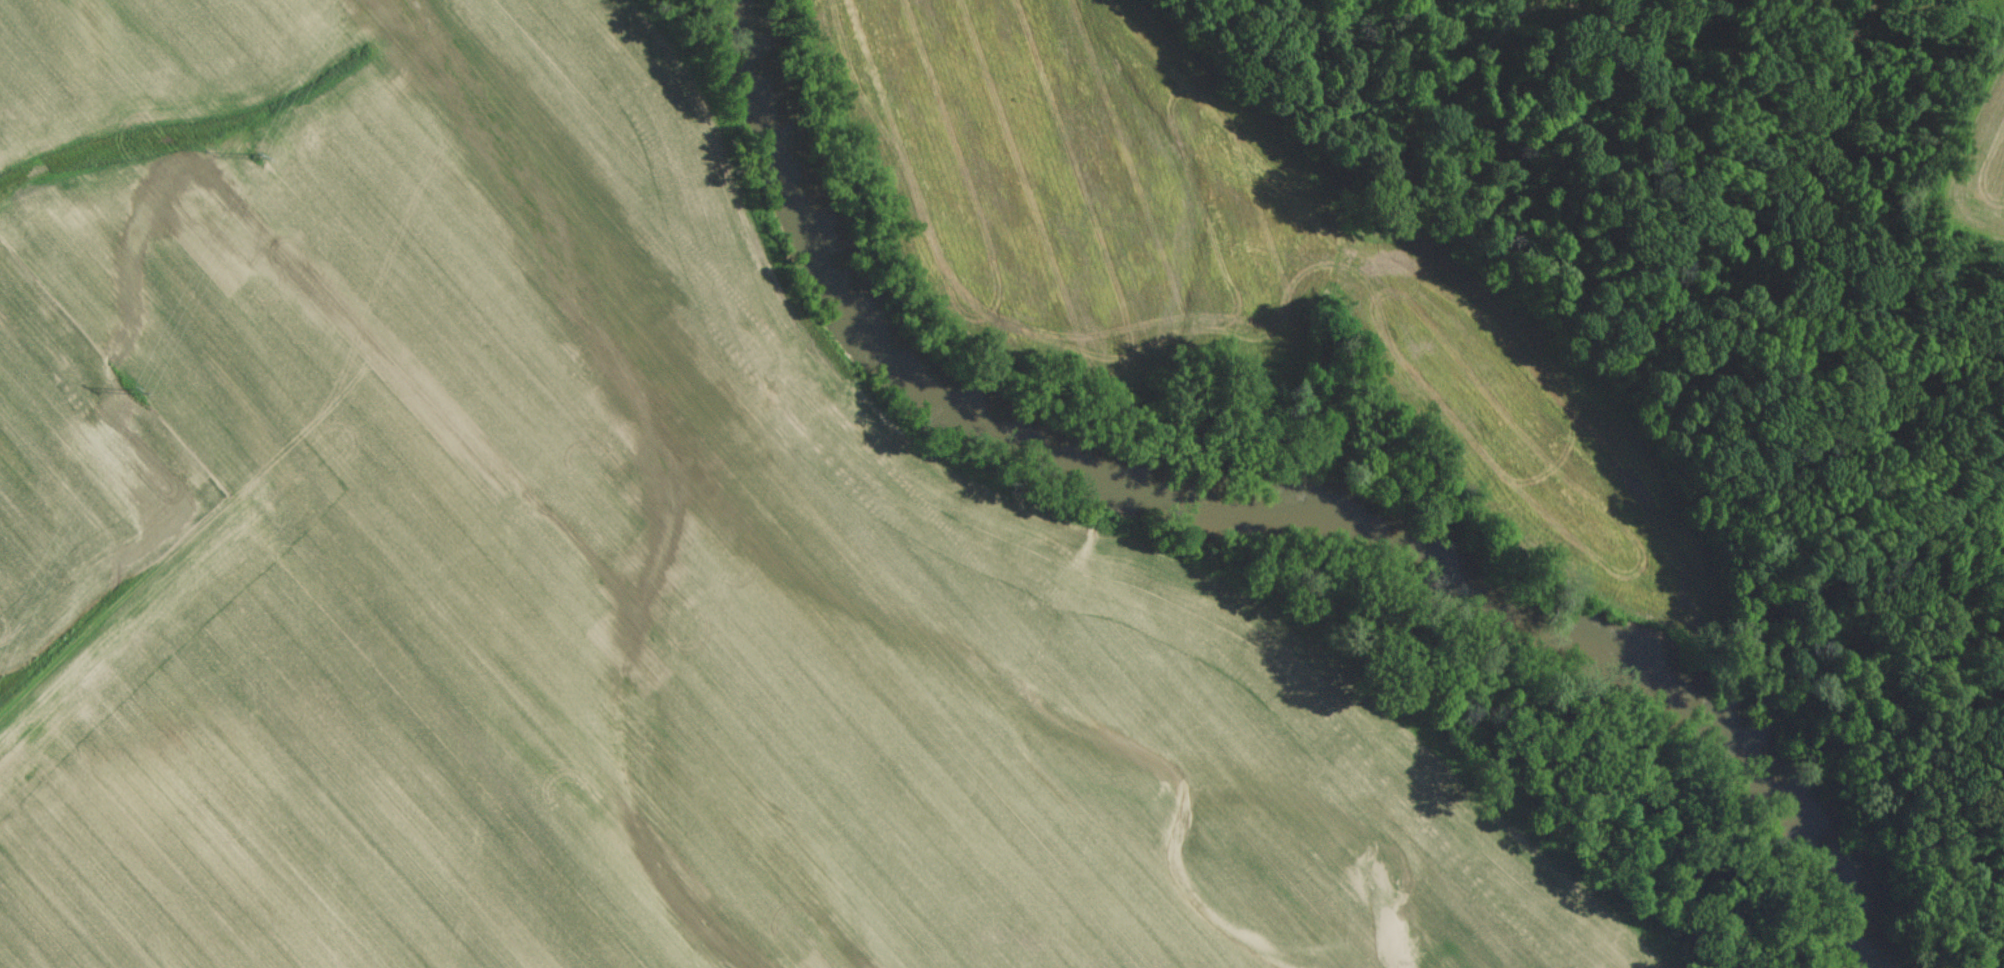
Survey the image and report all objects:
river: (1280, 507)

